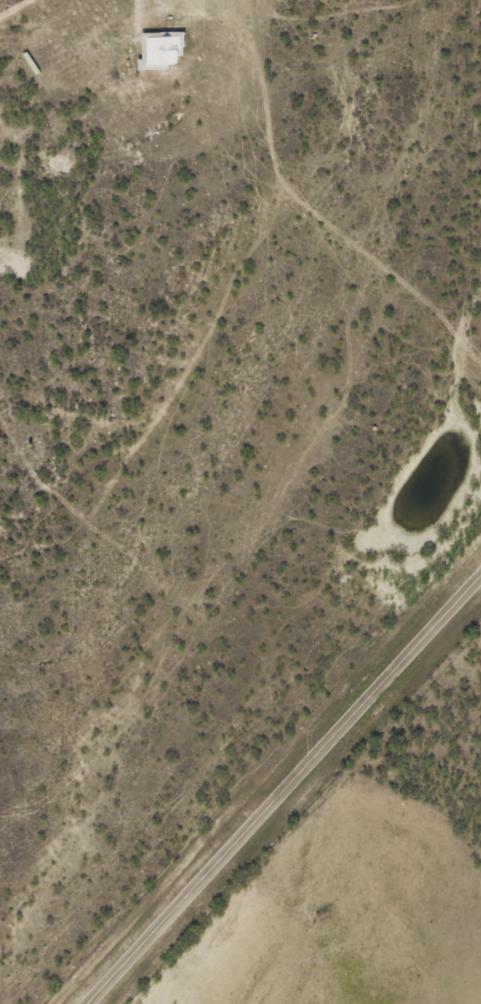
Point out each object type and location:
road: (1, 1)
building: (162, 51)
road: (285, 790)

